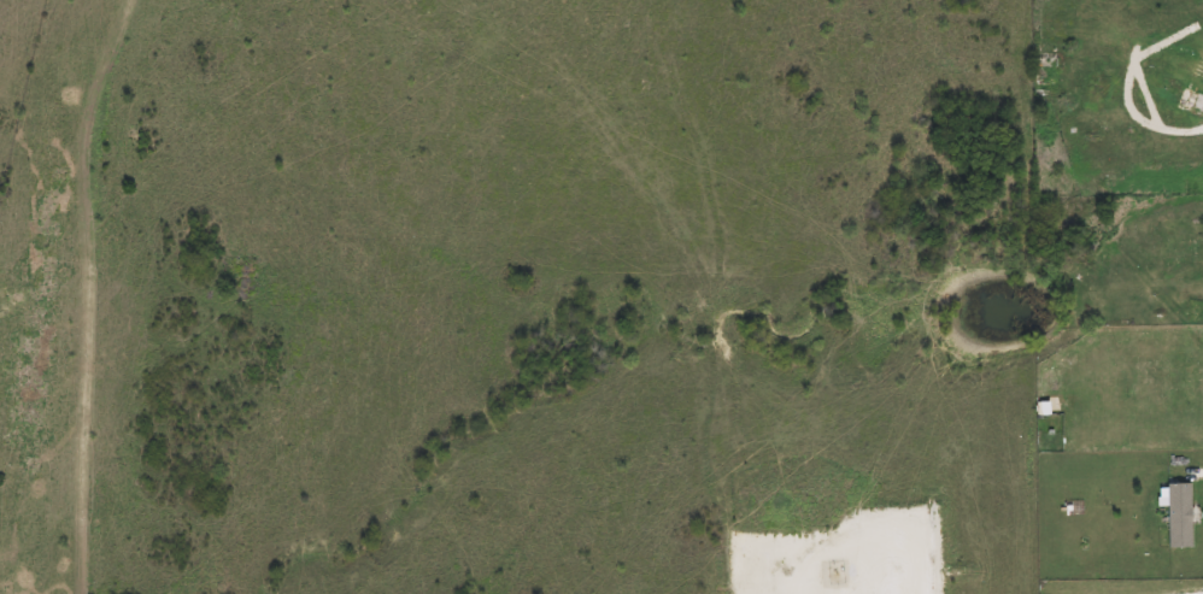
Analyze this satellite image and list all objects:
building: (1196, 61)
building: (1176, 514)

